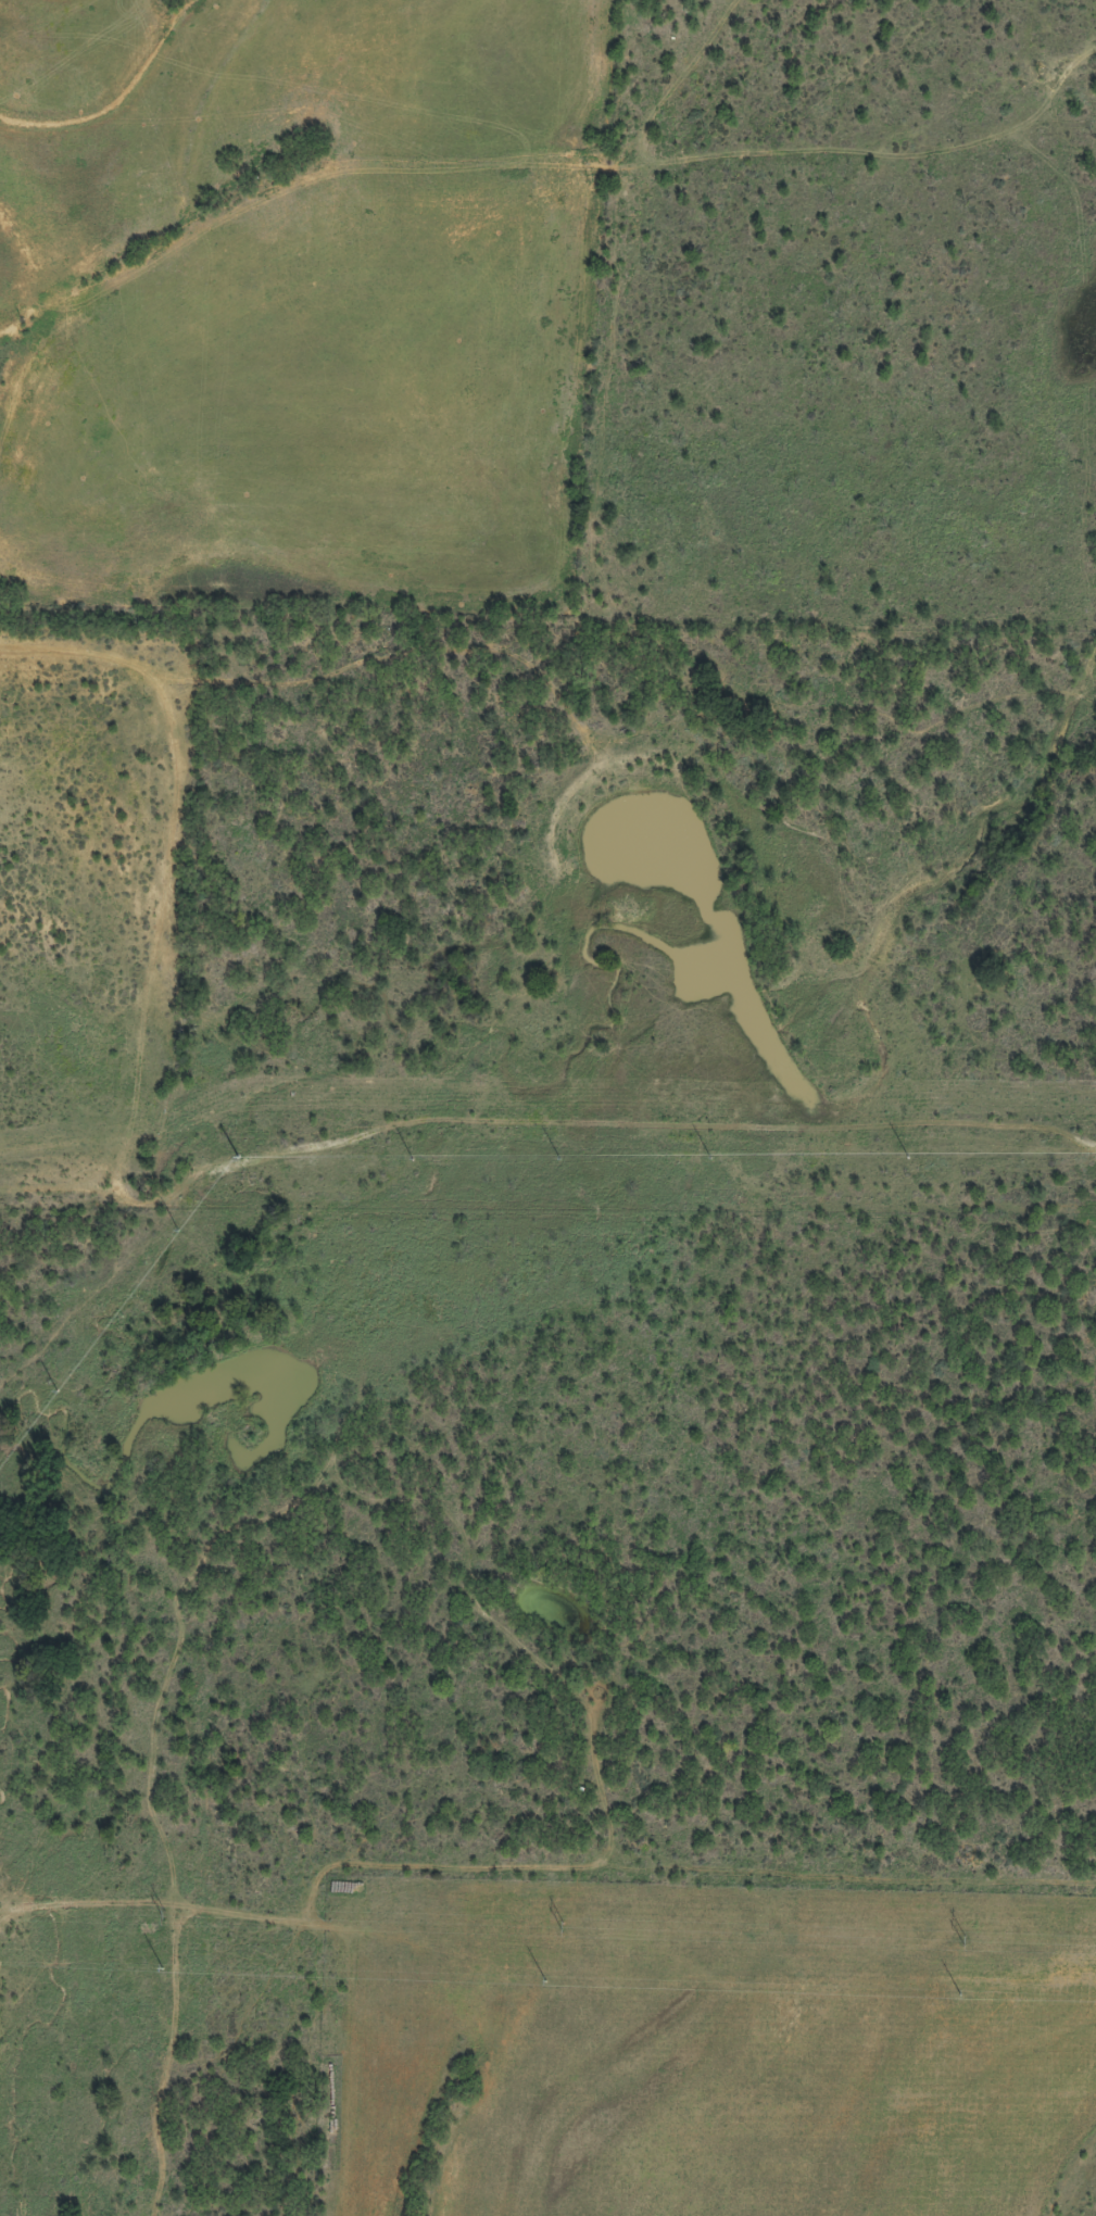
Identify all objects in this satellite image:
power tower: (162, 1914)
power tower: (563, 1928)
power tower: (963, 1941)

